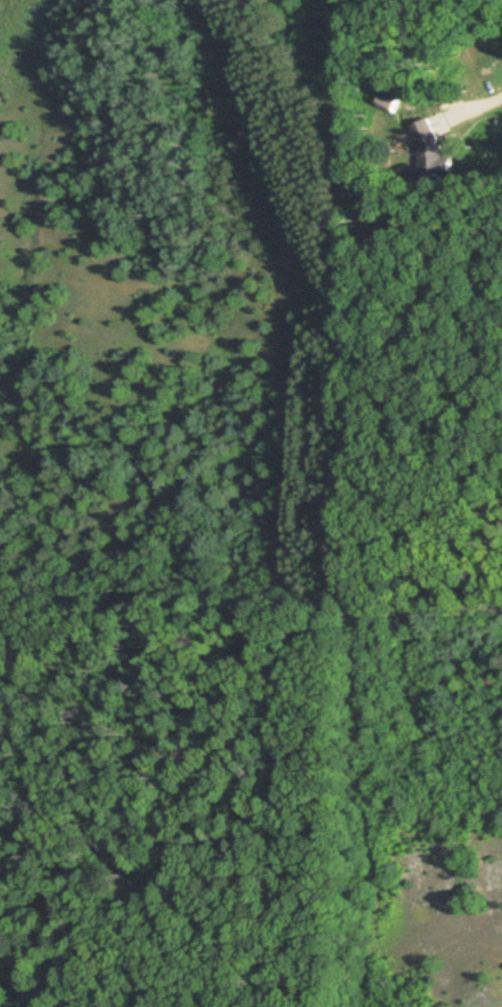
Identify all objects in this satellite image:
building: (396, 91)
building: (434, 151)

